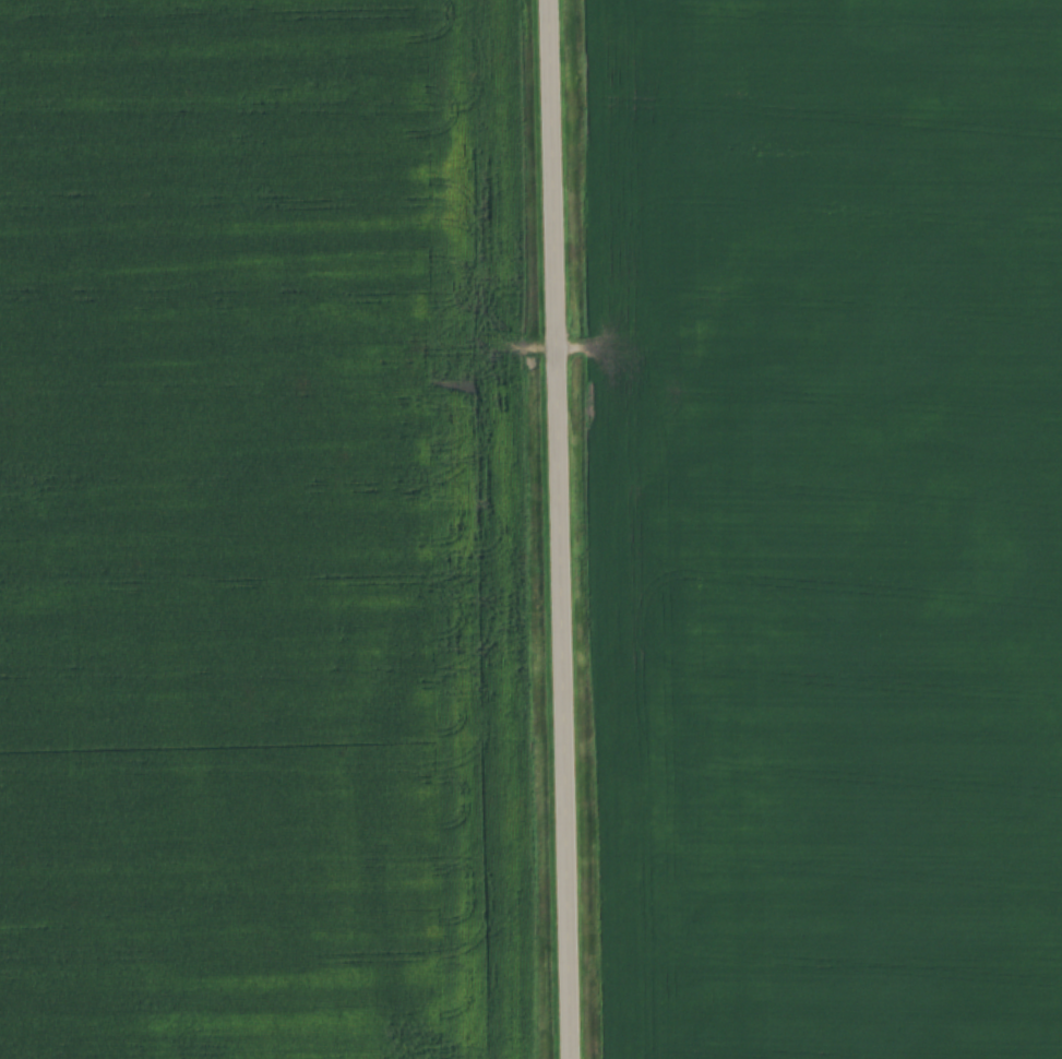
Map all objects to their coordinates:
road: (557, 529)

